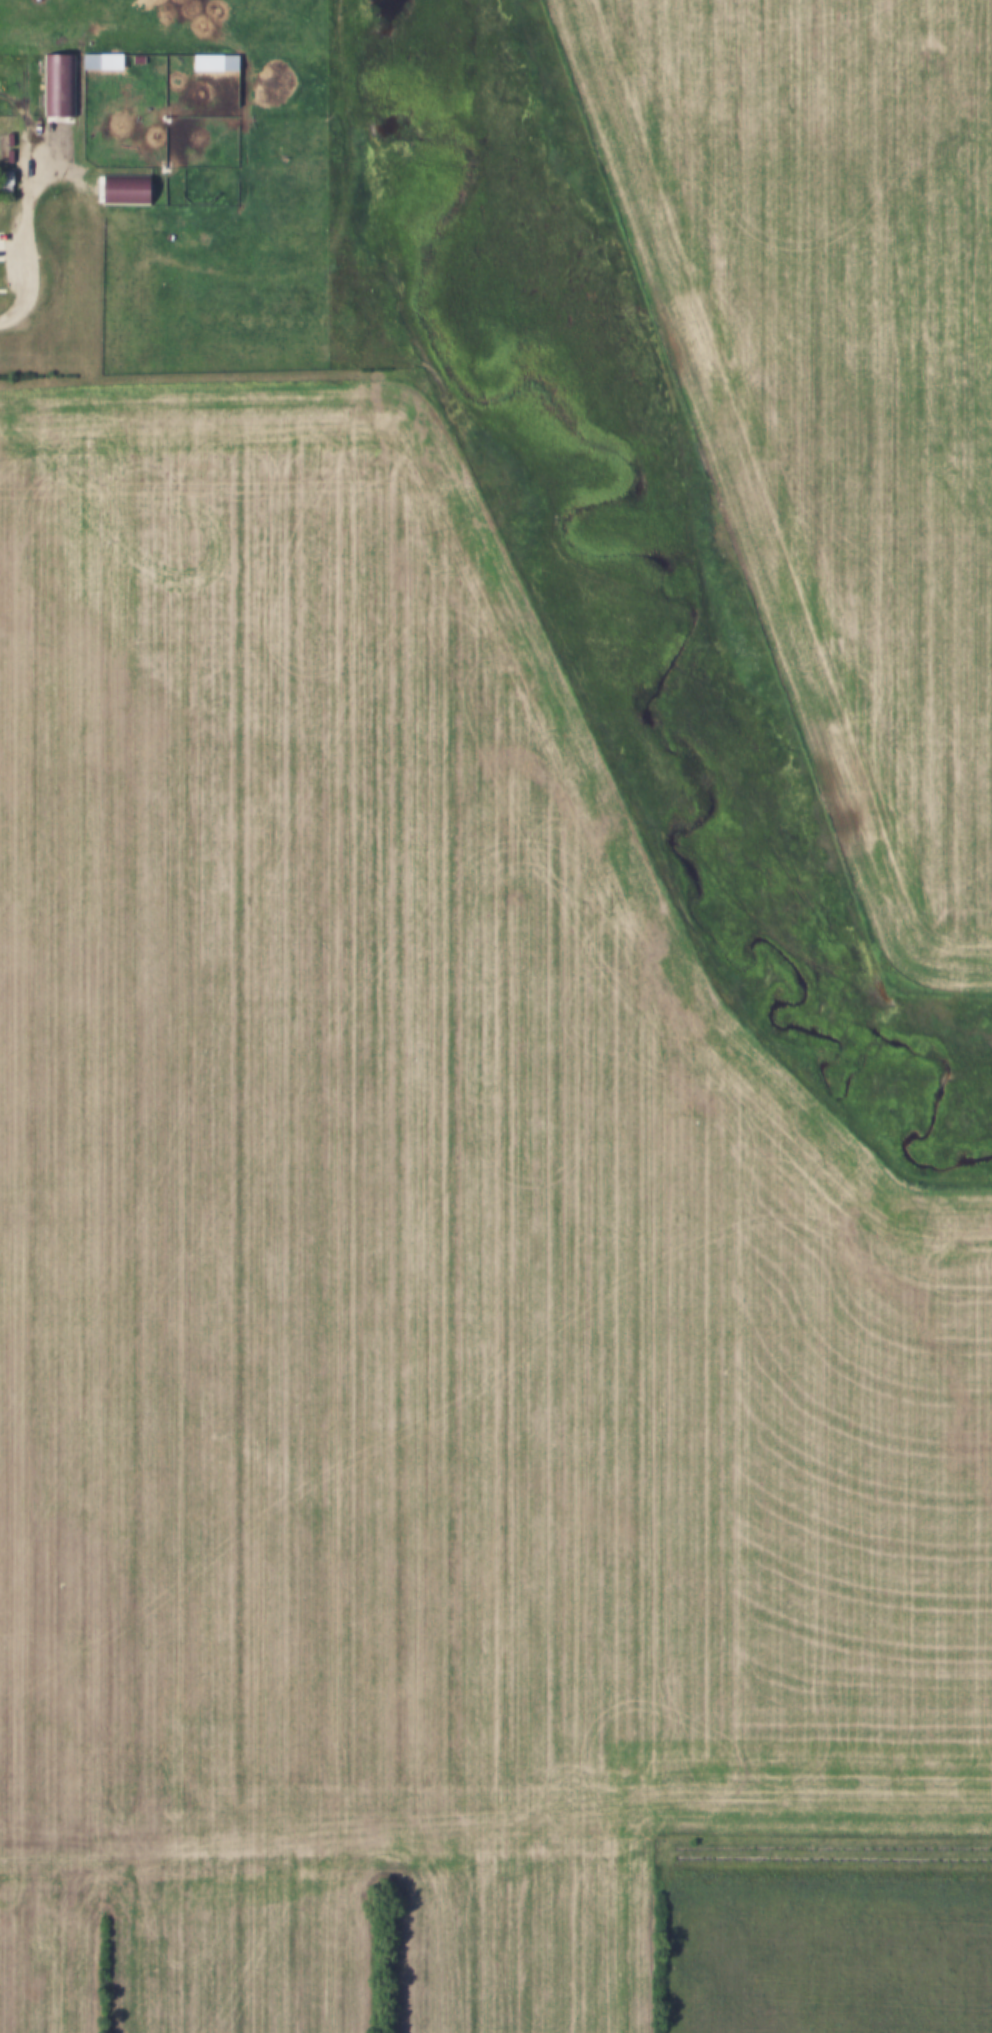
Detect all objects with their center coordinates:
building: (234, 63)
building: (124, 126)
building: (131, 193)
road: (21, 219)
road: (495, 1877)
road: (673, 1956)

